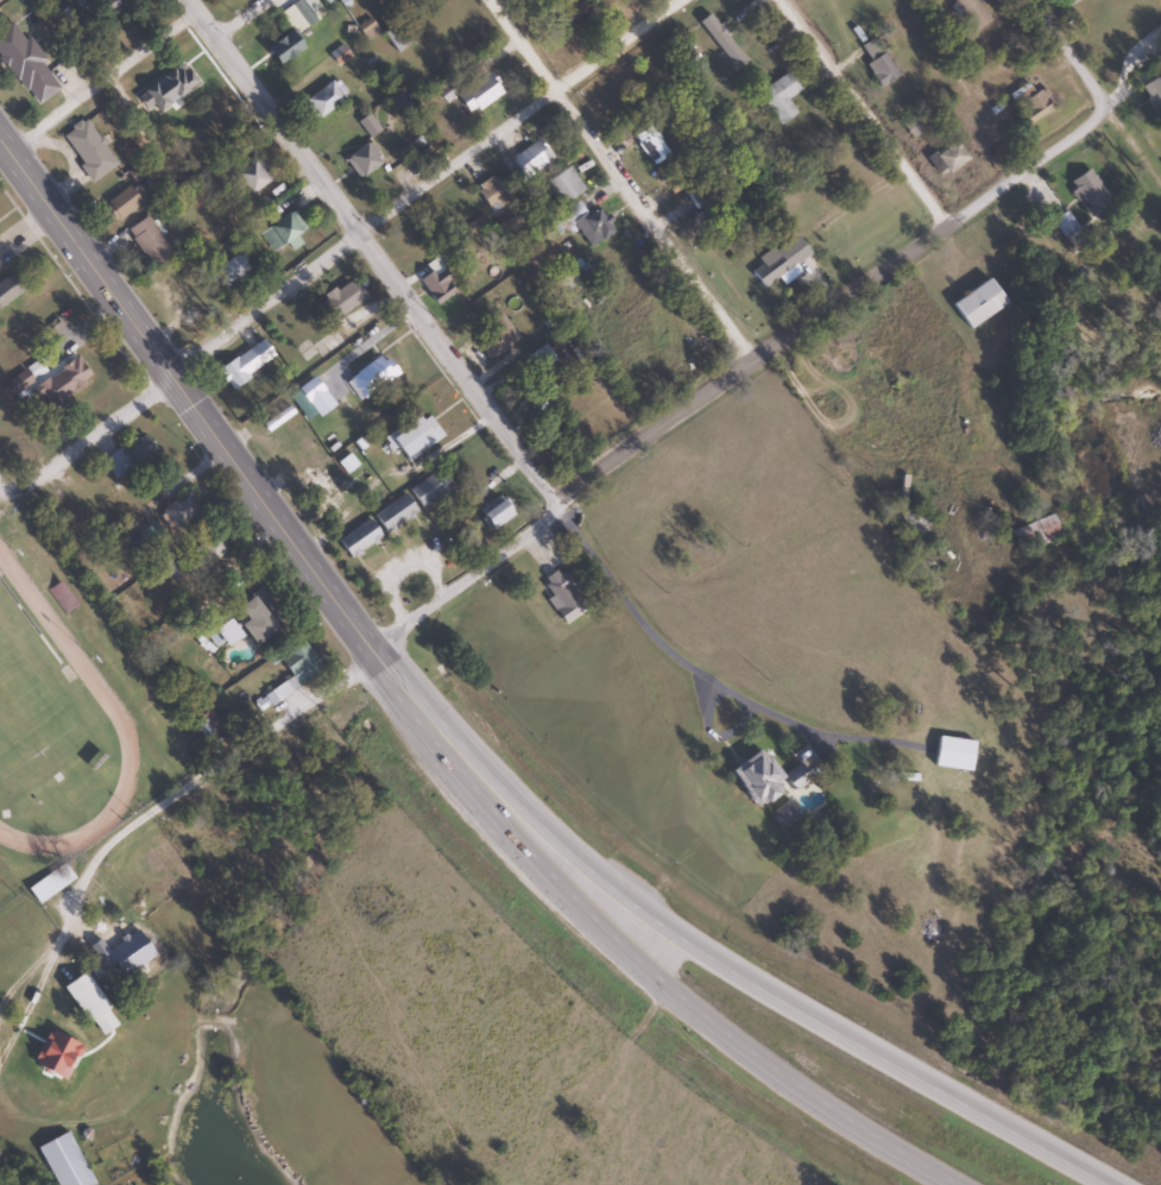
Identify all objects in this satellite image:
building: (1078, 0)
building: (112, 6)
road: (187, 7)
building: (567, 11)
building: (302, 13)
building: (970, 13)
road: (242, 20)
building: (366, 29)
building: (395, 38)
building: (283, 48)
building: (339, 55)
building: (877, 63)
building: (26, 65)
road: (102, 83)
building: (166, 89)
building: (1153, 90)
building: (478, 94)
road: (1097, 94)
building: (778, 96)
building: (323, 99)
building: (1033, 105)
road: (866, 115)
building: (215, 132)
building: (414, 133)
building: (650, 145)
building: (87, 150)
building: (361, 160)
building: (526, 160)
building: (250, 177)
road: (623, 181)
building: (563, 184)
building: (1087, 191)
building: (490, 193)
building: (695, 197)
building: (122, 201)
building: (1064, 223)
building: (579, 226)
building: (283, 232)
building: (149, 241)
building: (405, 241)
road: (936, 241)
road: (341, 251)
road: (377, 258)
building: (780, 259)
building: (233, 267)
building: (436, 279)
building: (7, 288)
building: (184, 289)
building: (974, 302)
building: (494, 336)
building: (244, 364)
building: (371, 377)
building: (58, 385)
building: (538, 396)
building: (315, 397)
building: (411, 436)
building: (127, 456)
building: (429, 487)
road: (4, 500)
road: (263, 502)
building: (179, 512)
building: (393, 512)
building: (493, 512)
building: (1034, 532)
building: (358, 538)
building: (212, 547)
building: (557, 585)
building: (61, 597)
building: (255, 616)
building: (223, 632)
road: (387, 660)
building: (296, 668)
building: (204, 724)
building: (951, 752)
building: (753, 776)
building: (794, 776)
building: (49, 883)
building: (120, 944)
building: (83, 996)
road: (831, 1021)
road: (733, 1039)
building: (63, 1161)
river: (4, 1181)

